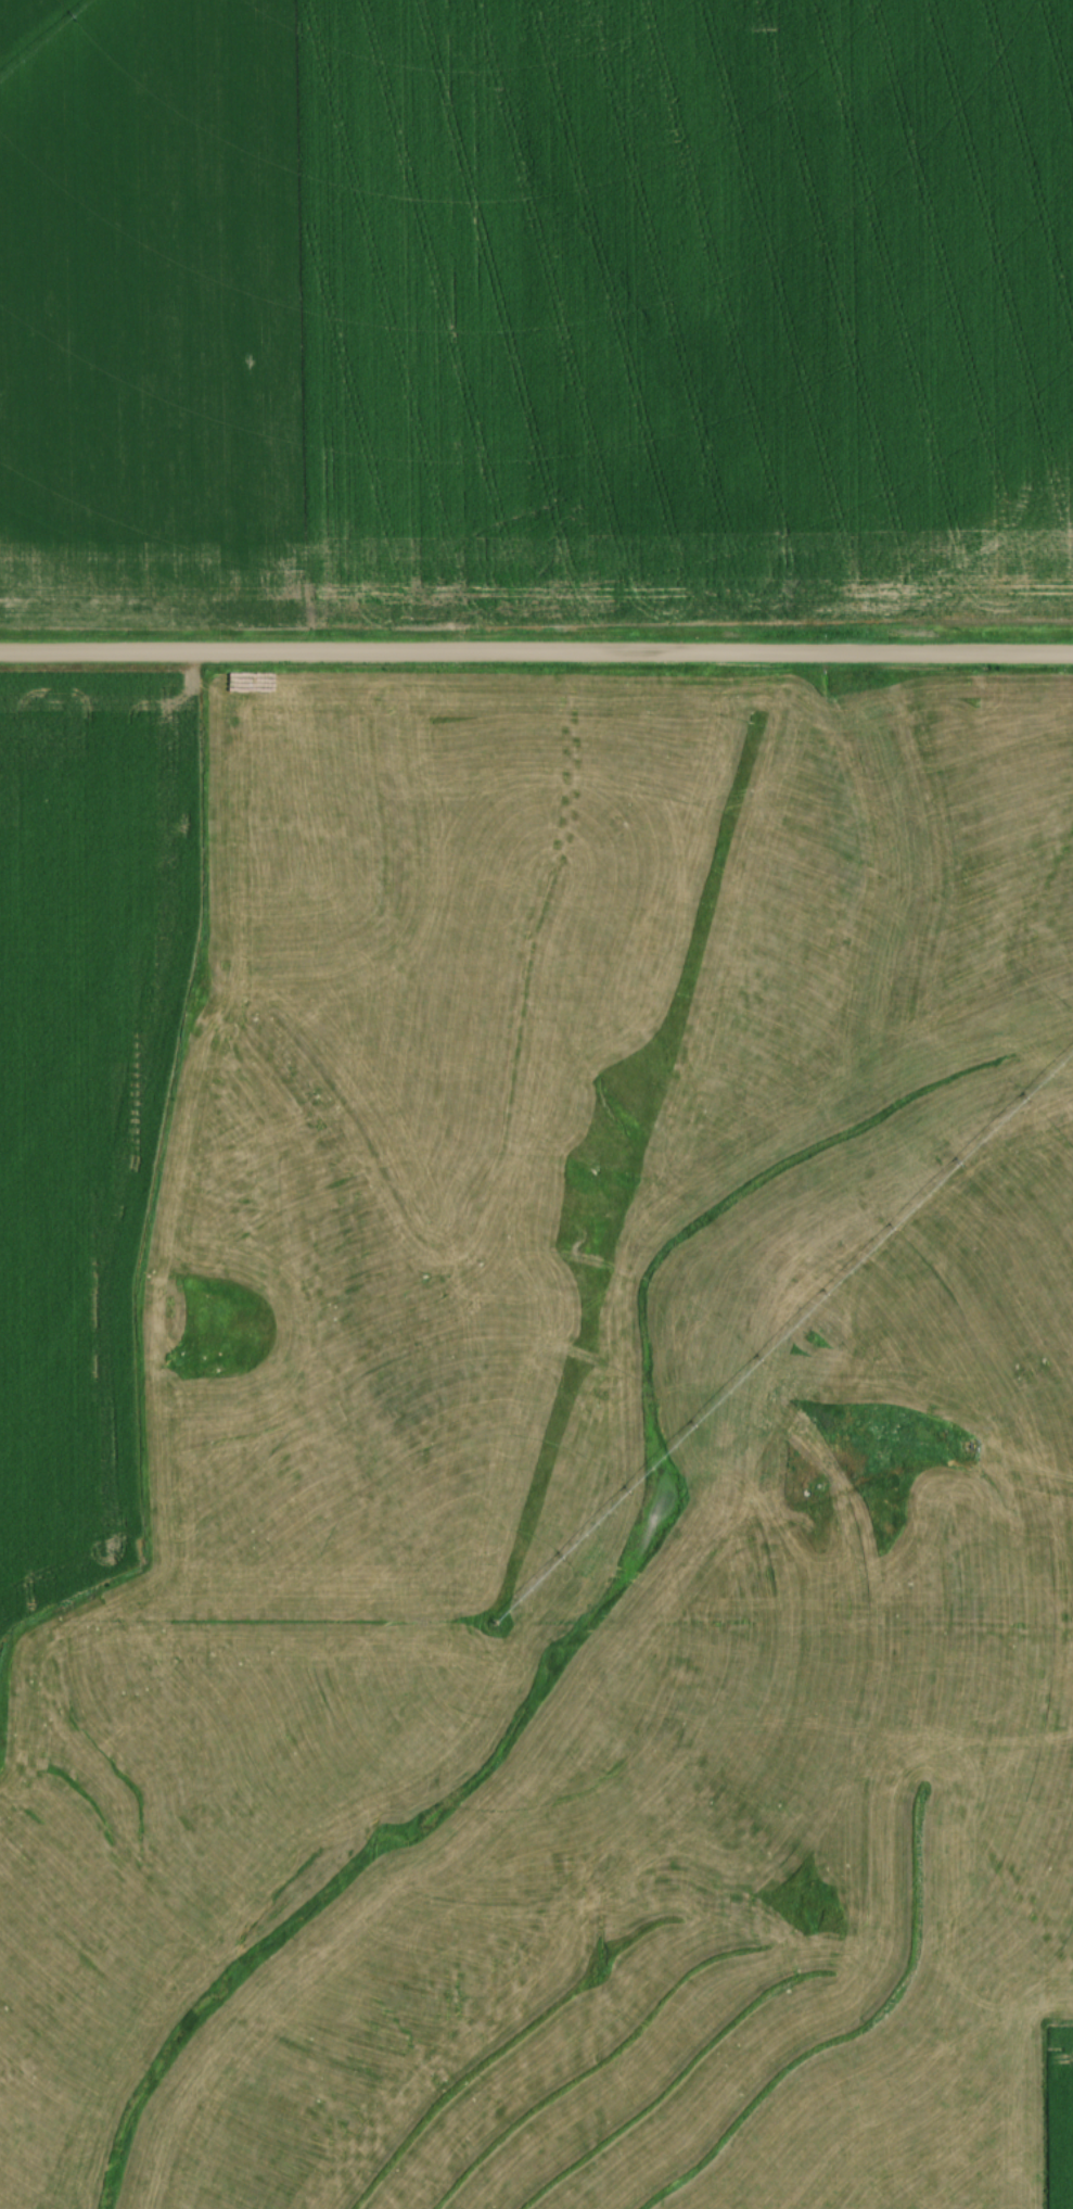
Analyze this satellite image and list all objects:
road: (536, 658)

